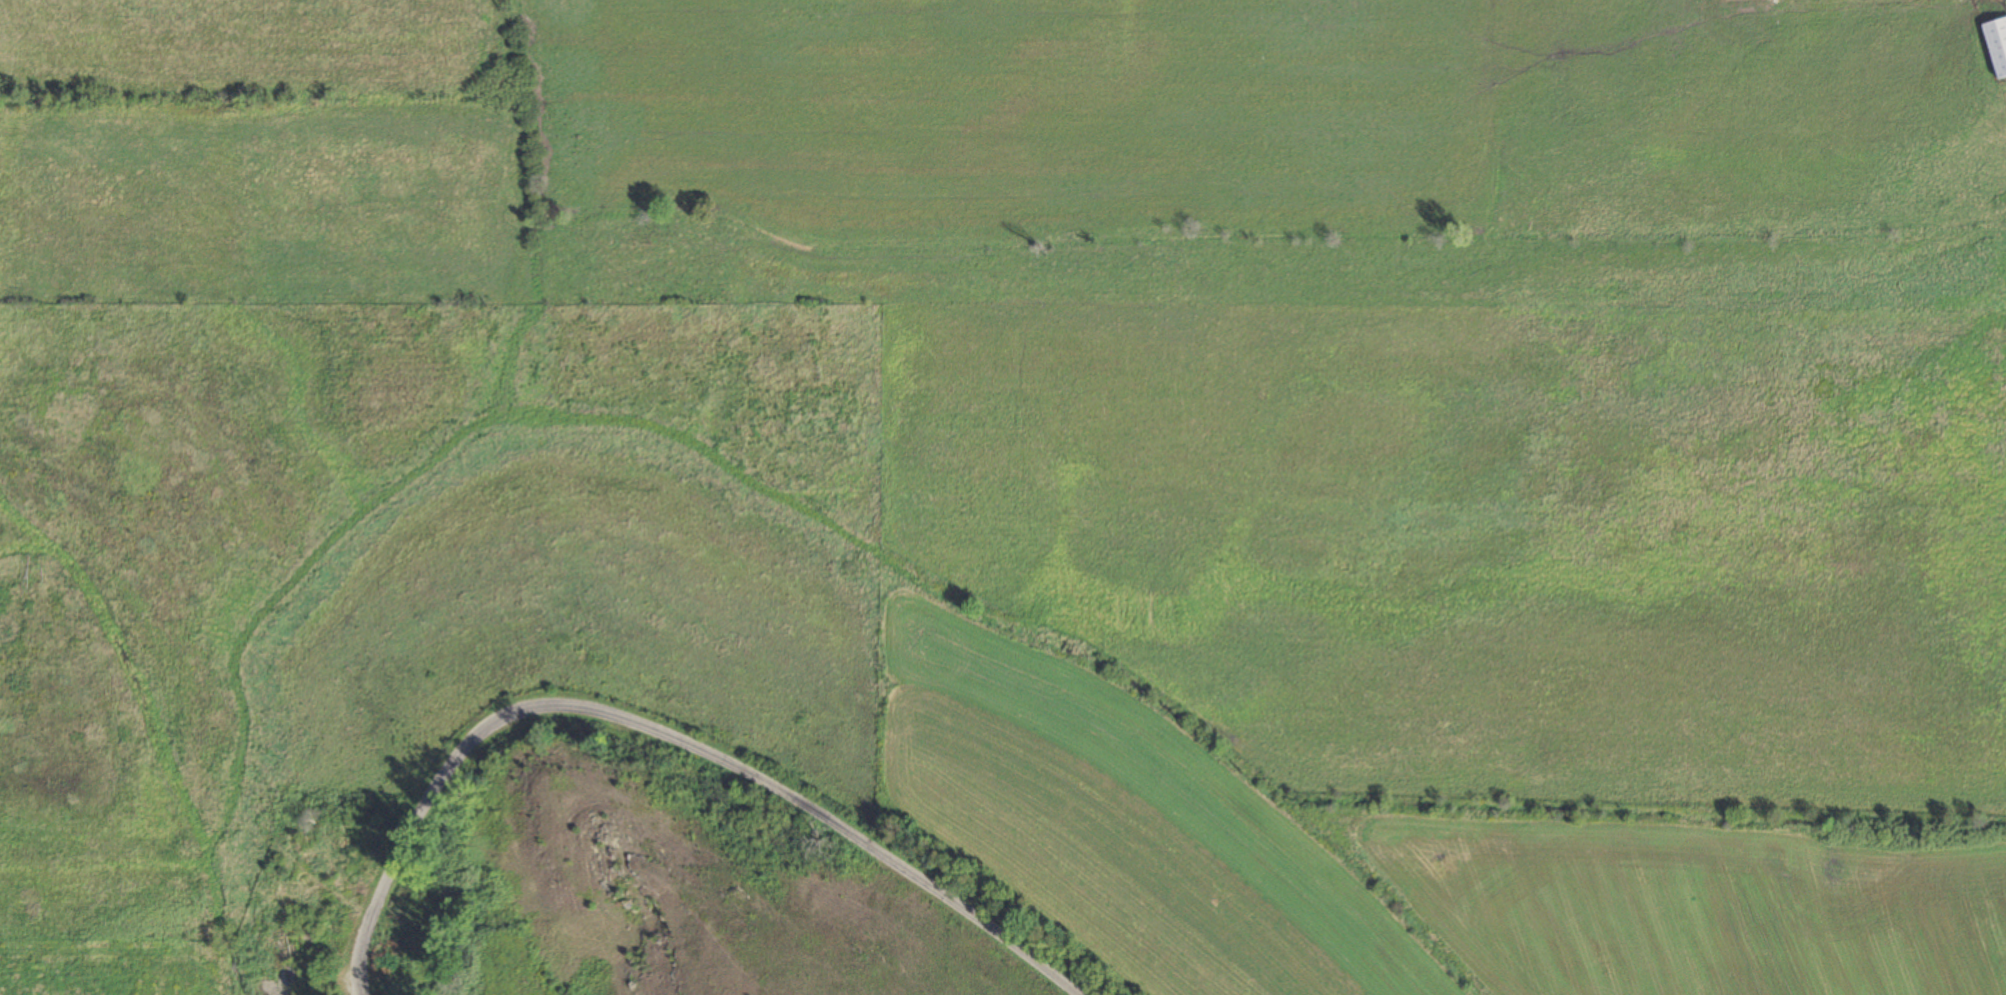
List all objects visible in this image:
building: (1995, 45)
road: (661, 734)

